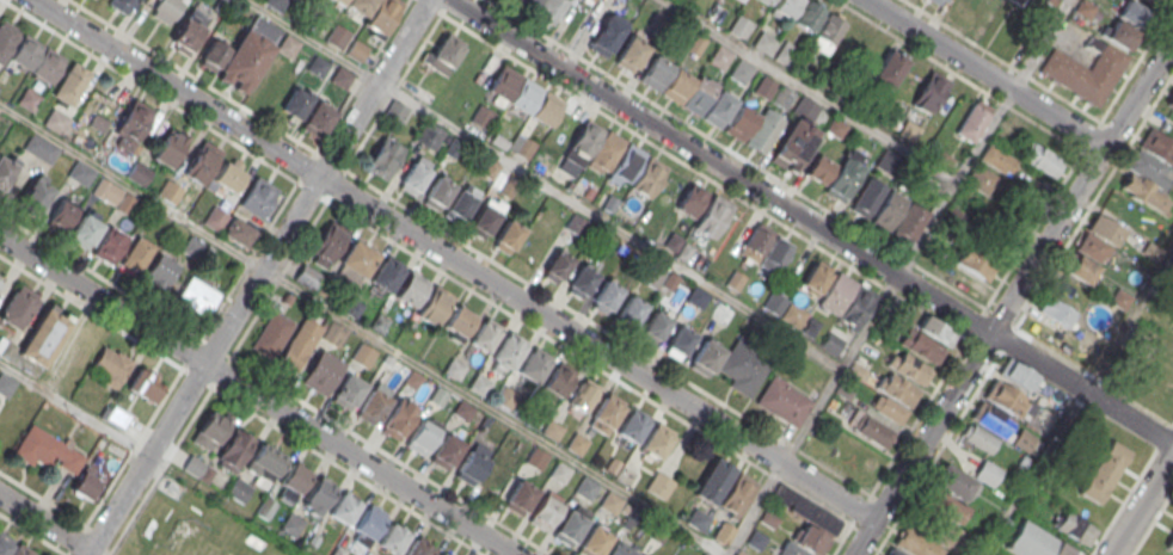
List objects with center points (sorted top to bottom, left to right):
building: (590, 0)
building: (766, 1)
building: (938, 1)
building: (1020, 1)
building: (1155, 2)
building: (276, 4)
building: (527, 4)
building: (122, 5)
building: (785, 7)
building: (1085, 8)
building: (166, 10)
road: (437, 10)
building: (551, 10)
building: (381, 14)
building: (809, 16)
building: (1126, 24)
building: (738, 26)
building: (188, 30)
building: (827, 33)
building: (606, 35)
building: (338, 36)
building: (6, 38)
road: (312, 41)
building: (763, 42)
road: (1042, 43)
building: (288, 44)
building: (357, 50)
building: (24, 51)
building: (785, 51)
building: (444, 54)
building: (630, 54)
building: (719, 56)
building: (244, 60)
building: (47, 64)
building: (889, 68)
building: (741, 70)
road: (989, 72)
building: (1085, 72)
building: (656, 73)
road: (192, 75)
road: (361, 75)
building: (342, 76)
building: (503, 81)
building: (70, 84)
building: (676, 85)
building: (766, 86)
building: (272, 91)
building: (931, 91)
road: (1138, 93)
building: (524, 94)
building: (699, 95)
building: (782, 95)
building: (27, 98)
building: (1169, 100)
road: (586, 103)
building: (295, 105)
building: (546, 107)
building: (395, 112)
building: (483, 116)
road: (855, 118)
building: (318, 119)
building: (56, 121)
building: (131, 122)
building: (971, 122)
building: (429, 135)
building: (796, 136)
building: (584, 142)
building: (524, 147)
building: (168, 148)
building: (39, 149)
building: (606, 150)
road: (736, 153)
building: (383, 158)
building: (1039, 158)
building: (997, 159)
building: (202, 162)
building: (627, 162)
road: (719, 166)
building: (818, 168)
building: (5, 171)
building: (1149, 171)
building: (79, 172)
building: (137, 173)
building: (414, 174)
building: (846, 174)
building: (228, 175)
building: (647, 177)
building: (979, 178)
road: (133, 187)
building: (104, 190)
building: (168, 191)
building: (437, 191)
building: (35, 195)
building: (258, 196)
building: (867, 197)
building: (690, 199)
building: (459, 204)
building: (889, 210)
building: (713, 214)
building: (61, 216)
building: (214, 217)
building: (956, 218)
building: (484, 220)
building: (909, 223)
road: (926, 228)
building: (84, 230)
building: (235, 230)
building: (508, 233)
road: (1048, 240)
building: (327, 242)
building: (755, 242)
building: (110, 243)
building: (677, 246)
building: (1094, 248)
road: (655, 253)
building: (776, 253)
building: (137, 254)
road: (453, 260)
building: (975, 261)
building: (355, 263)
building: (557, 267)
building: (159, 272)
building: (386, 273)
building: (308, 277)
road: (259, 278)
building: (581, 279)
building: (0, 283)
building: (410, 288)
road: (227, 292)
building: (1070, 292)
building: (837, 294)
building: (606, 295)
building: (198, 296)
building: (434, 304)
building: (18, 306)
building: (785, 309)
building: (631, 310)
building: (1056, 312)
road: (1126, 319)
building: (459, 321)
building: (655, 323)
building: (938, 328)
building: (333, 333)
building: (486, 333)
building: (44, 334)
building: (272, 334)
building: (681, 340)
building: (300, 344)
building: (926, 347)
building: (508, 349)
building: (363, 354)
building: (706, 356)
building: (534, 363)
building: (110, 364)
building: (743, 368)
building: (911, 368)
building: (454, 369)
building: (323, 371)
building: (1018, 374)
building: (413, 378)
building: (555, 382)
building: (5, 384)
building: (146, 384)
building: (479, 384)
building: (349, 389)
building: (898, 389)
road: (1081, 389)
building: (582, 394)
building: (438, 395)
road: (257, 396)
building: (505, 397)
building: (1006, 399)
building: (784, 401)
building: (373, 403)
road: (73, 408)
building: (463, 409)
road: (495, 412)
building: (606, 412)
building: (400, 417)
building: (990, 418)
building: (631, 426)
road: (932, 427)
building: (552, 428)
building: (210, 430)
building: (873, 431)
building: (423, 434)
building: (656, 442)
building: (577, 443)
building: (45, 449)
building: (447, 449)
building: (234, 450)
building: (536, 457)
road: (781, 461)
building: (263, 464)
building: (194, 465)
building: (472, 465)
building: (1101, 470)
building: (559, 471)
road: (1031, 471)
building: (987, 473)
building: (626, 475)
building: (294, 479)
building: (495, 480)
building: (712, 481)
building: (85, 482)
building: (953, 482)
building: (658, 483)
building: (585, 487)
building: (239, 489)
building: (319, 494)
building: (737, 494)
building: (518, 497)
building: (610, 501)
building: (944, 505)
road: (1142, 506)
road: (861, 507)
building: (344, 508)
building: (804, 508)
building: (542, 512)
building: (696, 519)
road: (45, 520)
building: (368, 524)
building: (290, 525)
park: (185, 528)
building: (567, 528)
building: (1075, 528)
road: (81, 530)
building: (393, 538)
road: (864, 538)
building: (755, 539)
building: (594, 541)
building: (915, 542)
building: (1034, 542)
building: (1169, 544)
building: (12, 547)
building: (418, 548)
building: (620, 549)
building: (791, 549)
building: (739, 551)
building: (893, 551)
building: (440, 554)

